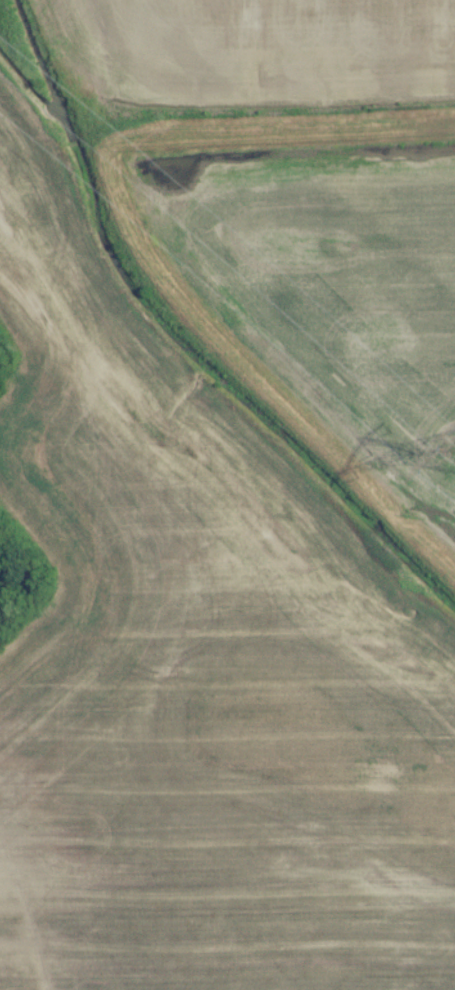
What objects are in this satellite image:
road: (145, 250)

